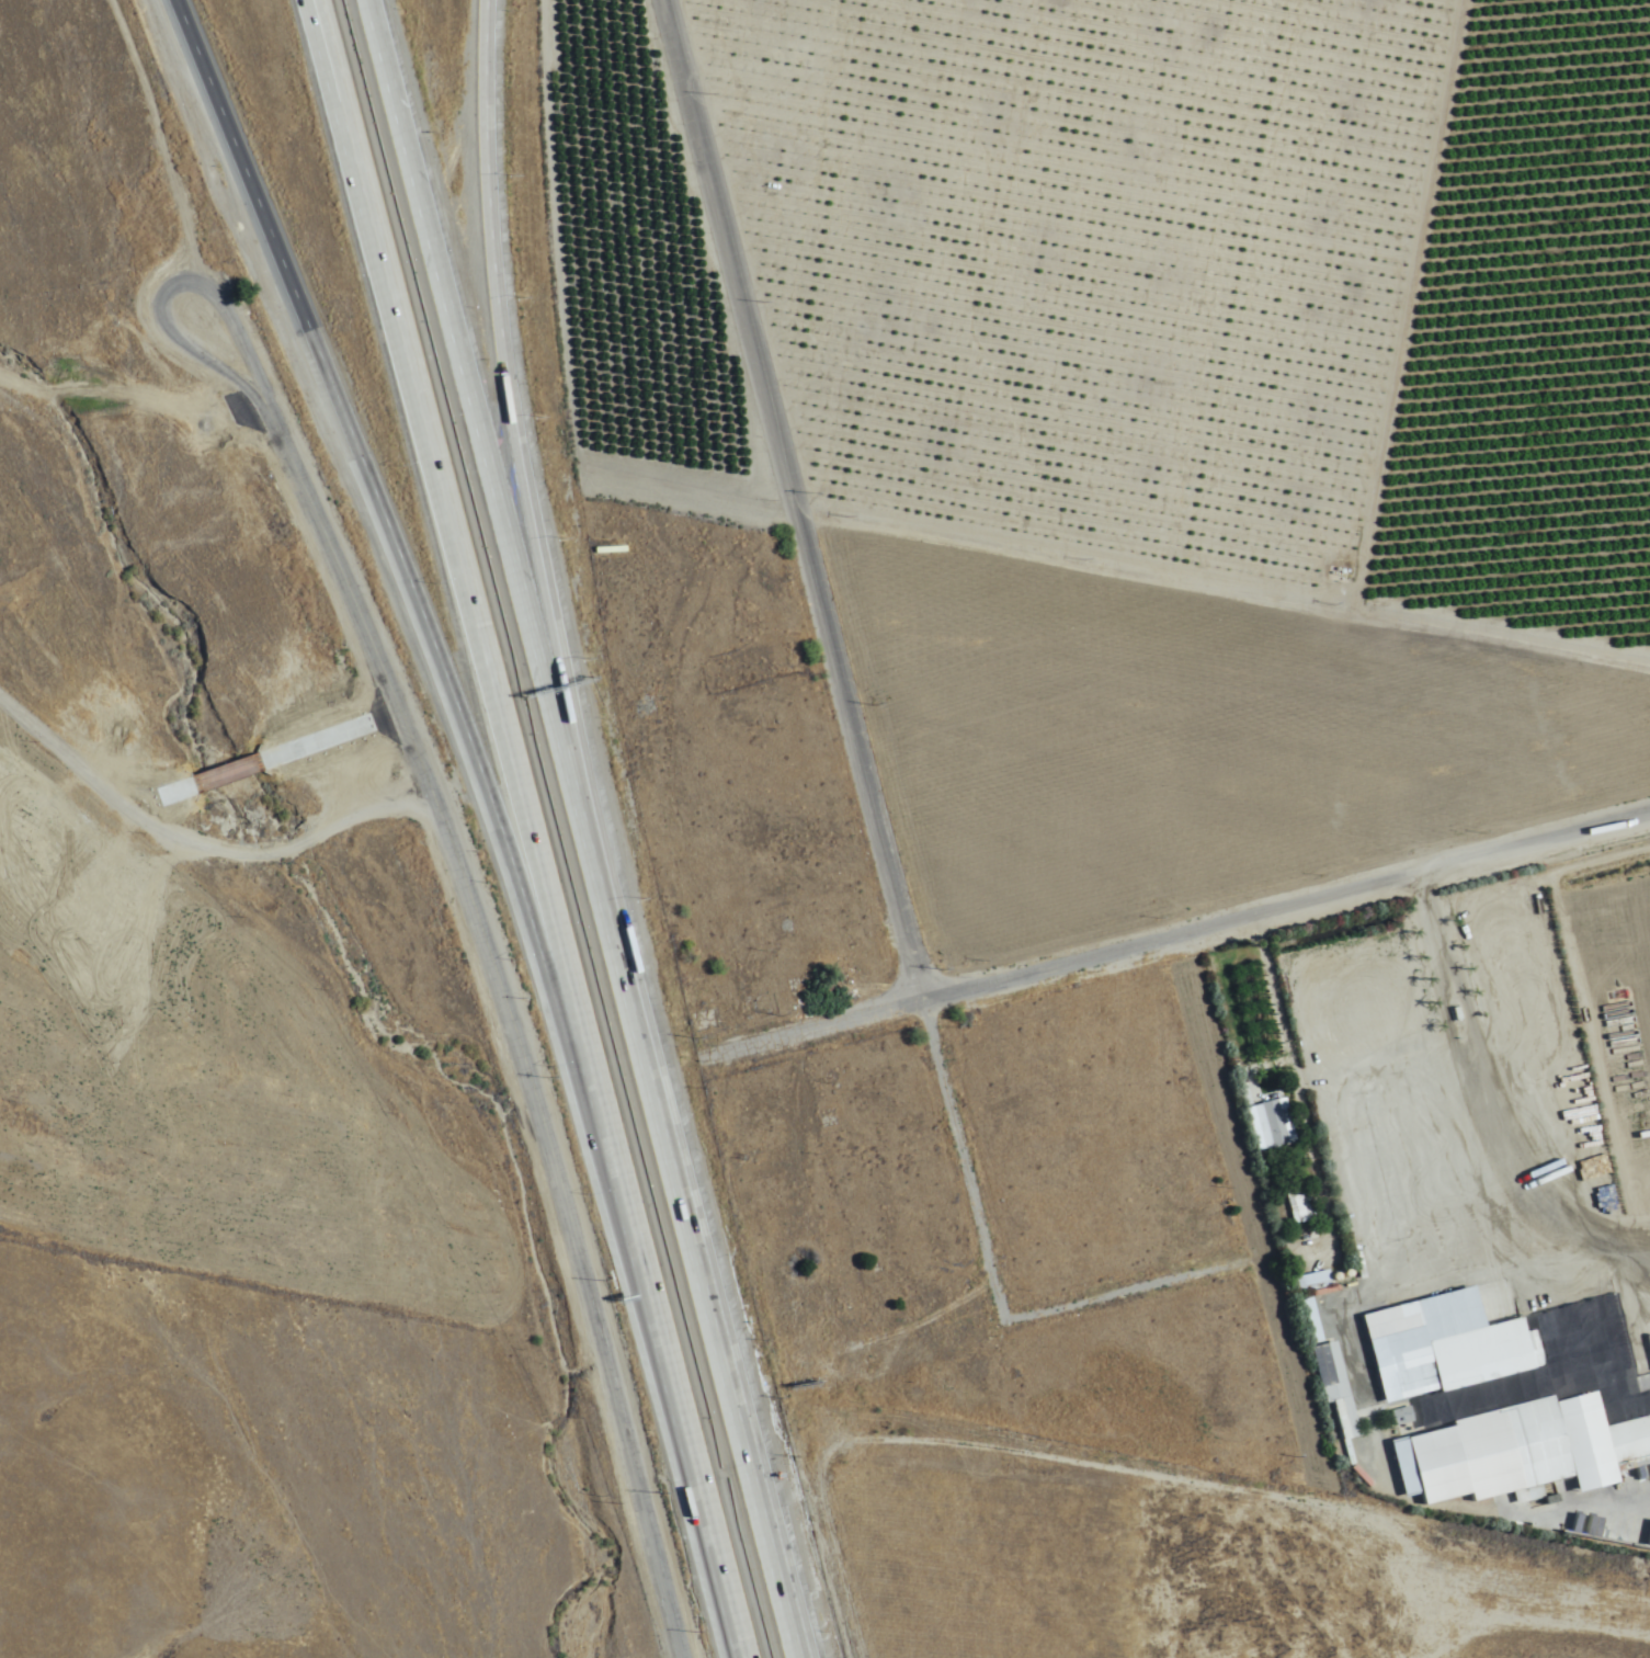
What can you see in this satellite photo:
road: (351, 129)
road: (337, 132)
crop: (1119, 258)
road: (168, 286)
road: (483, 439)
road: (525, 441)
road: (441, 496)
road: (1118, 566)
road: (406, 583)
road: (348, 587)
road: (838, 661)
road: (198, 842)
road: (1423, 878)
road: (1436, 932)
road: (559, 953)
crop: (1603, 979)
road: (953, 997)
road: (1467, 1007)
road: (1445, 1010)
road: (1300, 1079)
road: (1482, 1097)
building: (1273, 1123)
building: (1297, 1208)
road: (1270, 1216)
road: (571, 1222)
road: (698, 1268)
building: (1311, 1279)
building: (1310, 1320)
building: (1336, 1389)
building: (1493, 1413)
road: (679, 1417)
crop: (1209, 1553)

